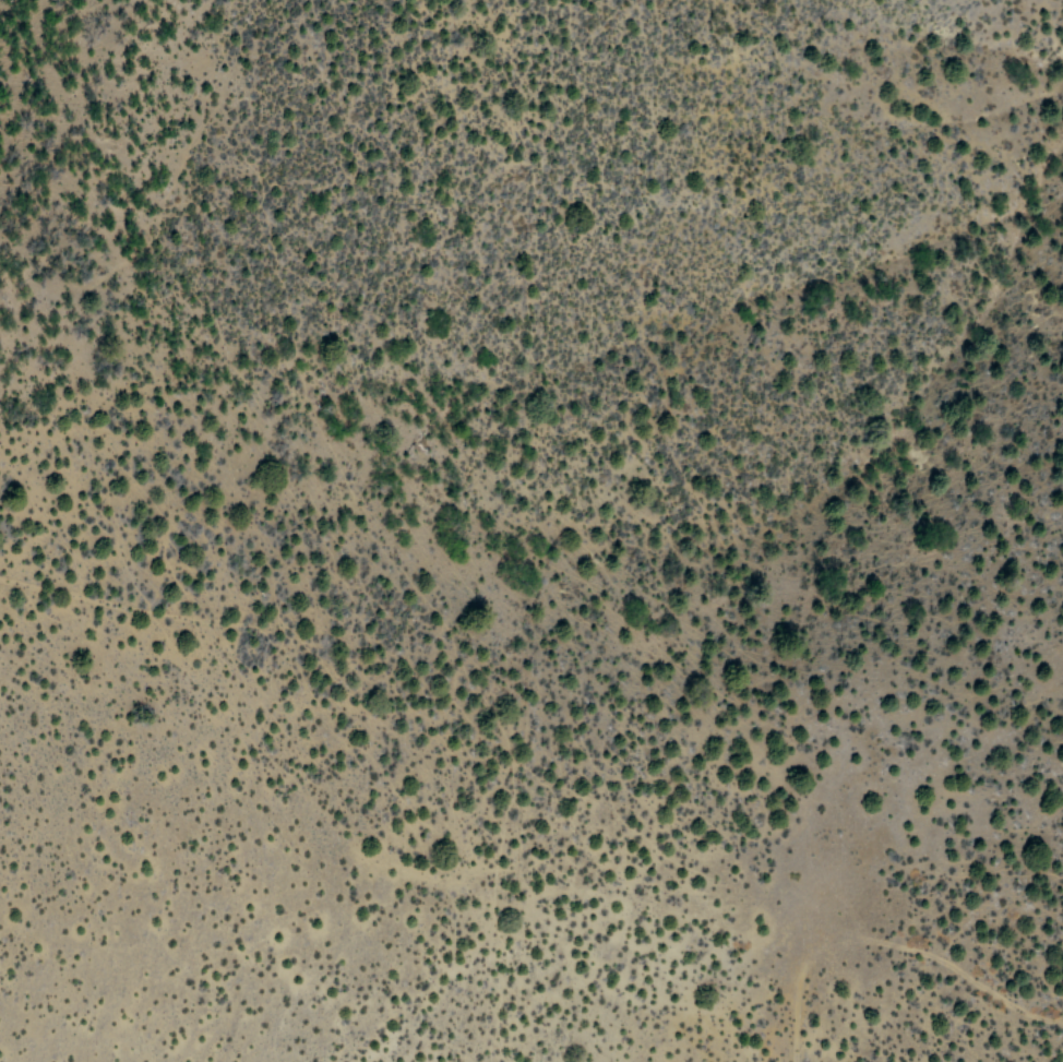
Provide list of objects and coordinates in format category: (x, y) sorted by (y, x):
road: (889, 948)

